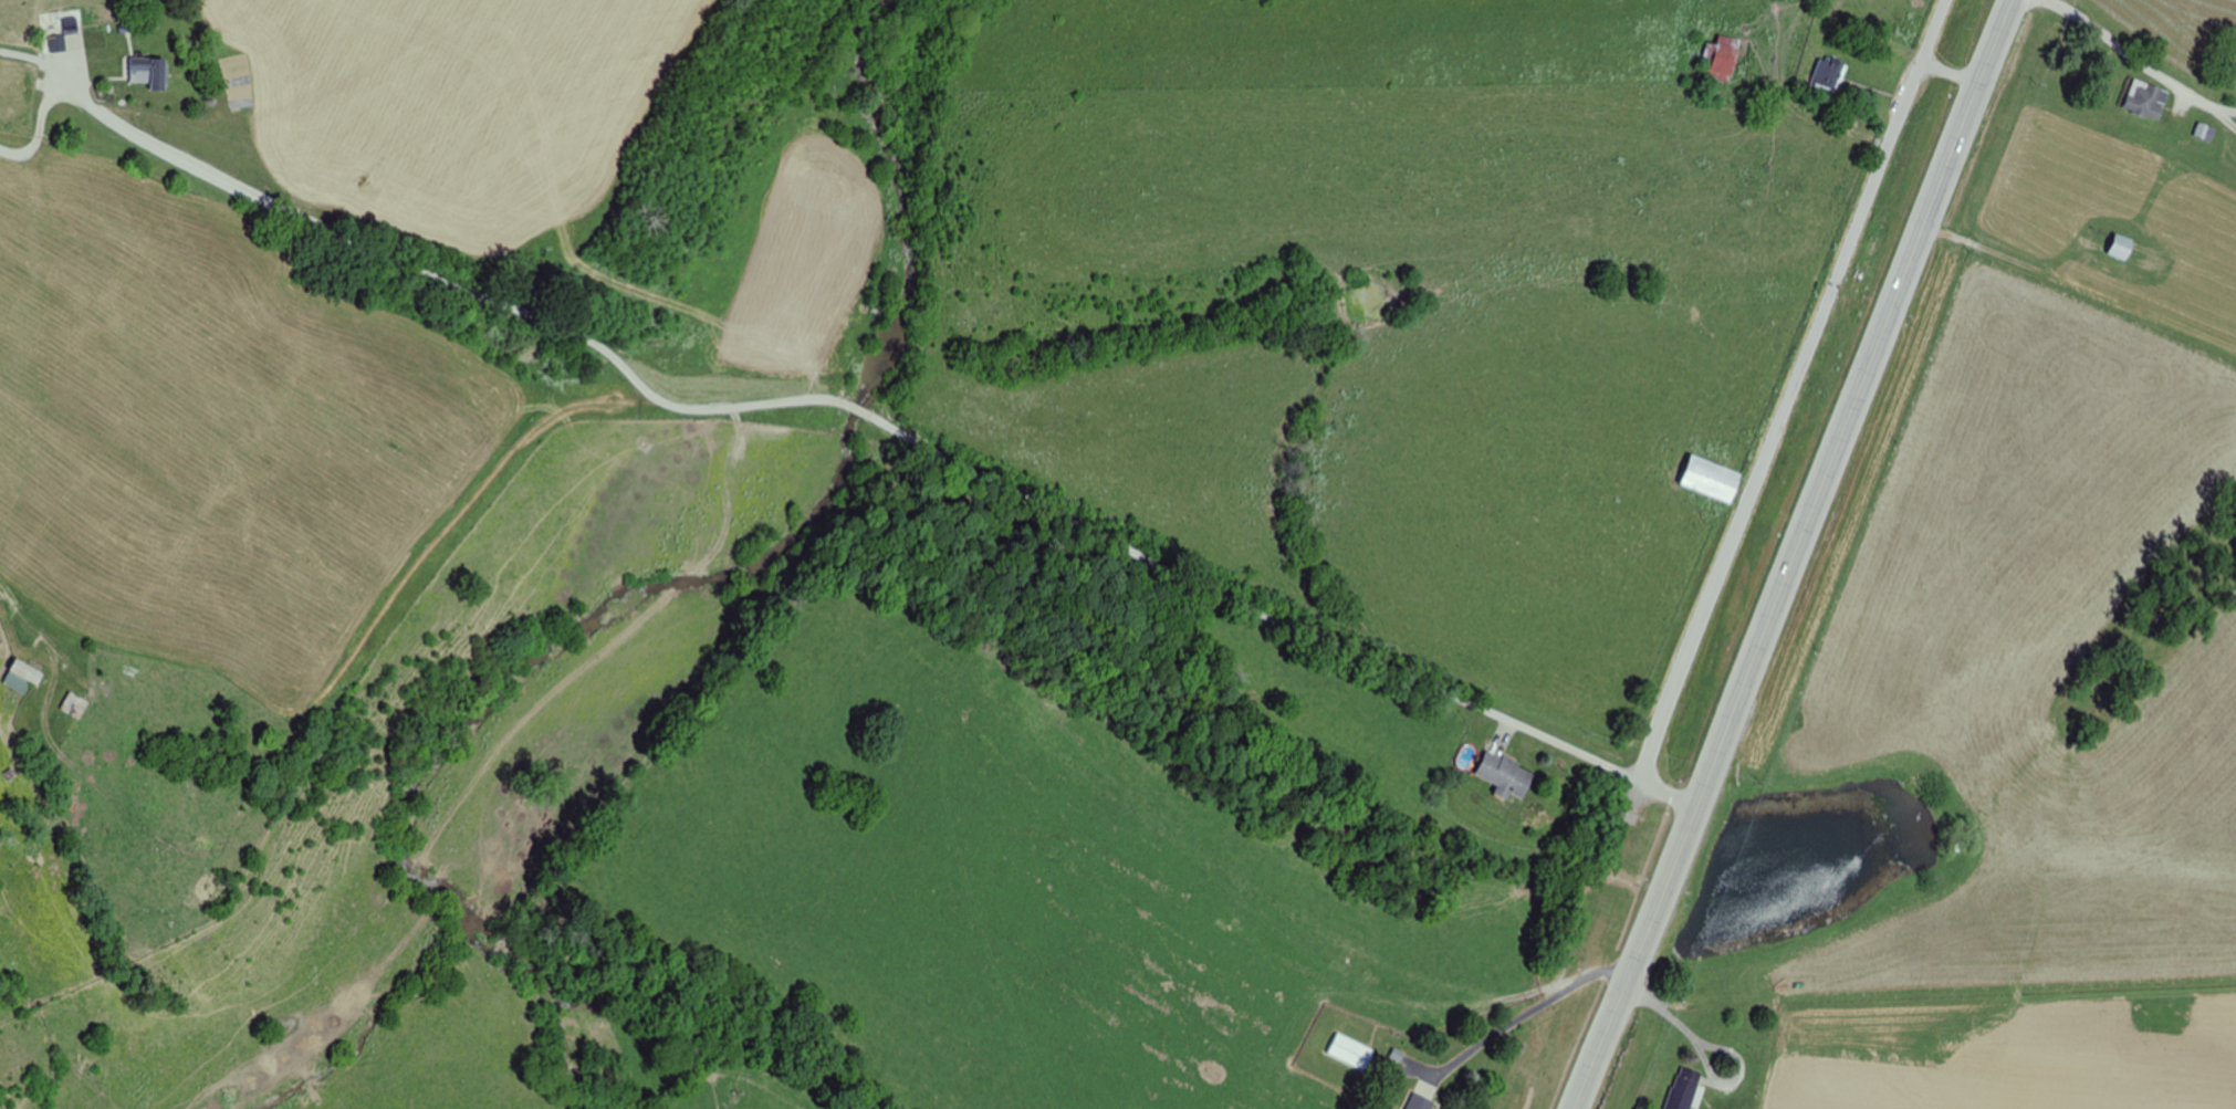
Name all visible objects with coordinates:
building: (59, 43)
building: (1723, 59)
road: (1953, 70)
building: (150, 71)
building: (1831, 73)
building: (2149, 101)
building: (2124, 247)
road: (2070, 325)
road: (1793, 389)
road: (901, 433)
building: (1714, 479)
road: (437, 524)
road: (1795, 554)
building: (24, 676)
building: (75, 705)
building: (1507, 776)
road: (1666, 794)
building: (1354, 1052)
building: (1686, 1089)
building: (1422, 1102)
building: (1391, 1108)

